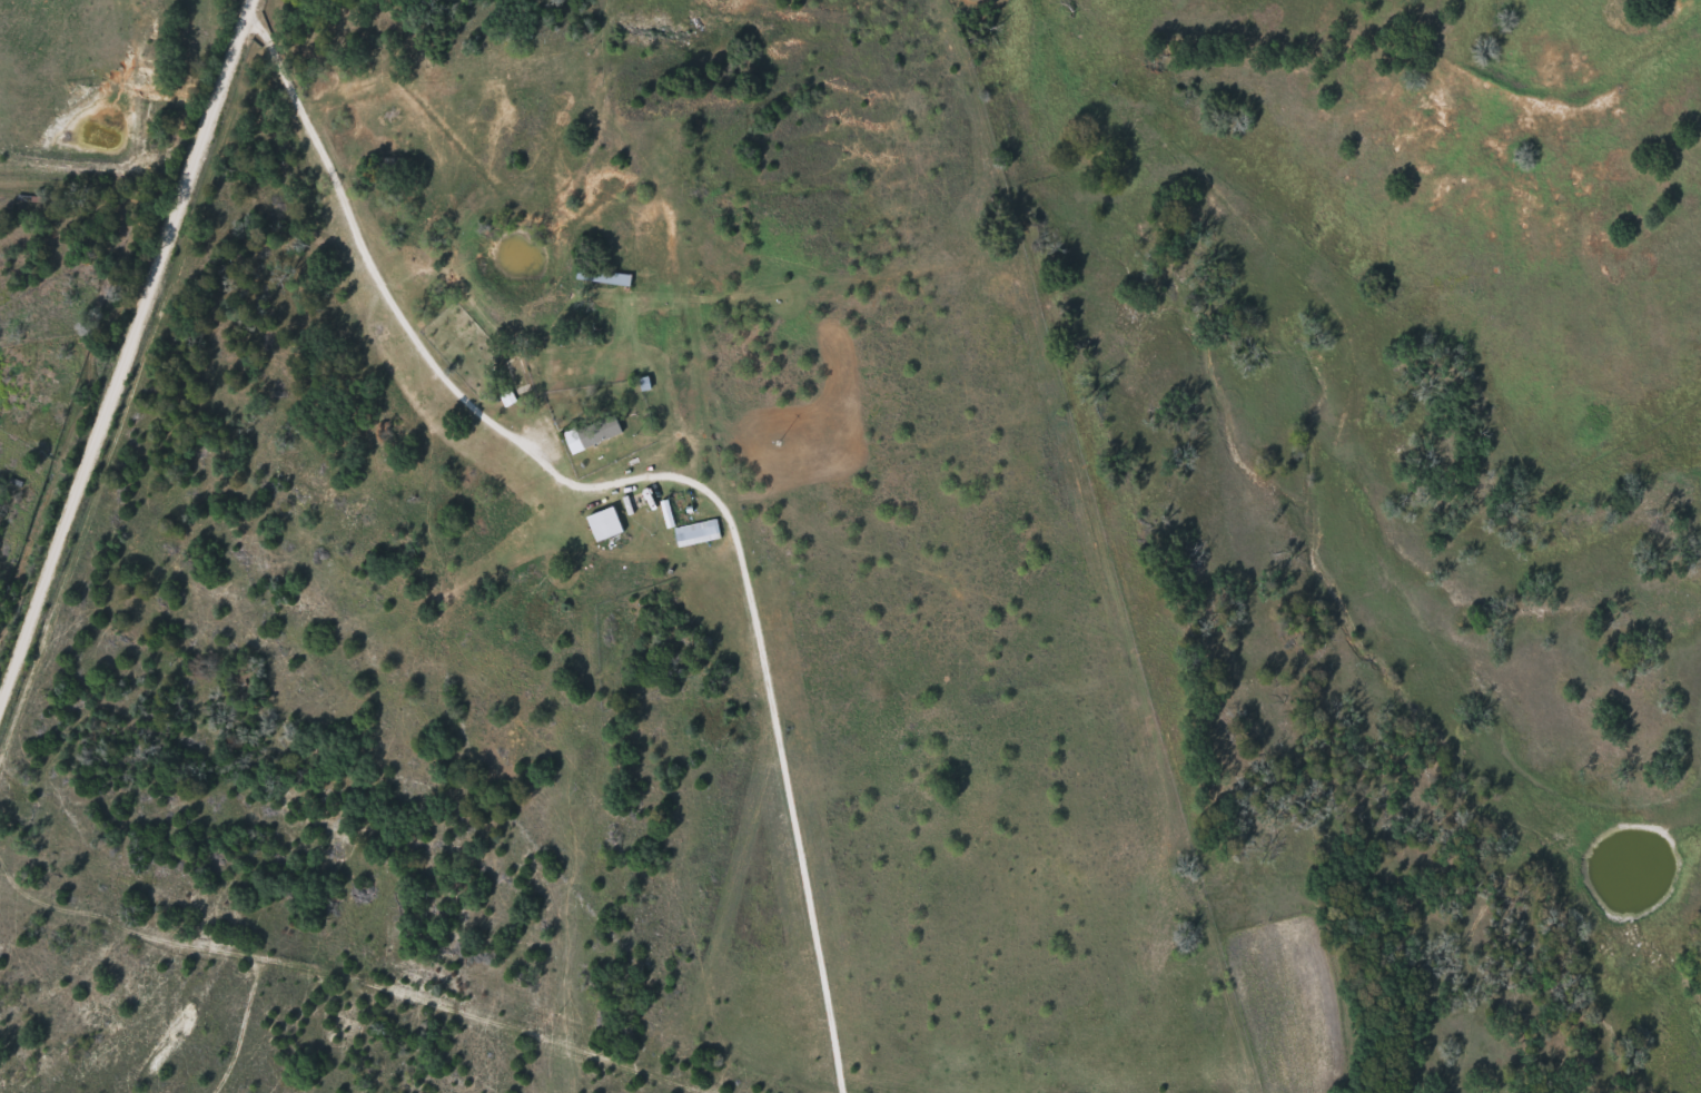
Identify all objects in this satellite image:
building: (605, 274)
road: (126, 356)
building: (594, 431)
building: (605, 522)
building: (698, 531)

